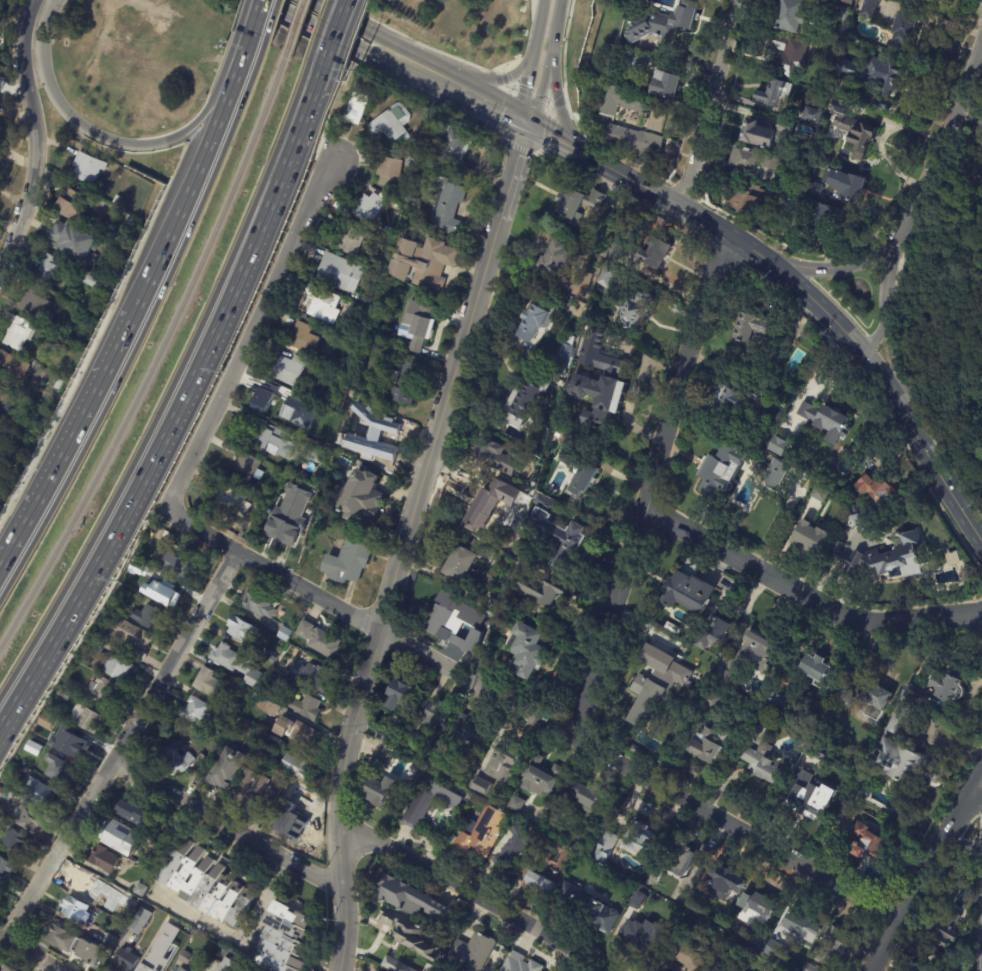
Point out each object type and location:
building: (848, 1)
building: (866, 8)
road: (534, 13)
building: (789, 14)
building: (843, 14)
road: (254, 19)
road: (271, 22)
building: (664, 23)
road: (555, 25)
railway: (294, 27)
road: (536, 27)
building: (904, 28)
building: (846, 30)
road: (318, 34)
road: (335, 37)
road: (364, 39)
building: (778, 42)
road: (240, 59)
building: (788, 59)
building: (633, 64)
building: (876, 78)
road: (974, 79)
road: (493, 81)
building: (665, 86)
road: (540, 87)
road: (524, 88)
building: (770, 93)
road: (485, 100)
road: (555, 103)
road: (711, 104)
building: (355, 107)
building: (630, 107)
building: (812, 112)
traffic signals: (526, 123)
building: (388, 124)
building: (854, 127)
road: (32, 133)
building: (766, 135)
road: (95, 136)
road: (942, 137)
building: (976, 137)
building: (635, 143)
building: (453, 150)
building: (744, 158)
building: (768, 162)
road: (603, 166)
building: (90, 167)
building: (388, 171)
building: (974, 174)
building: (813, 176)
building: (850, 186)
road: (185, 198)
building: (744, 198)
building: (120, 201)
building: (76, 203)
building: (577, 204)
building: (788, 205)
building: (448, 206)
building: (368, 208)
building: (819, 214)
road: (704, 222)
building: (120, 223)
building: (349, 237)
building: (76, 241)
building: (614, 250)
building: (653, 252)
road: (752, 252)
building: (555, 258)
building: (420, 261)
road: (842, 267)
building: (49, 270)
road: (889, 270)
building: (71, 273)
building: (340, 274)
building: (605, 276)
building: (97, 282)
building: (583, 287)
park: (854, 295)
building: (37, 301)
building: (317, 303)
building: (636, 308)
building: (536, 319)
building: (416, 322)
road: (143, 326)
building: (747, 327)
road: (247, 329)
road: (878, 331)
building: (20, 332)
road: (843, 332)
building: (301, 338)
building: (338, 338)
building: (563, 351)
road: (893, 356)
railway: (156, 358)
building: (12, 367)
building: (744, 368)
building: (287, 369)
building: (600, 381)
building: (404, 382)
road: (169, 389)
building: (526, 395)
building: (273, 400)
building: (737, 400)
building: (7, 405)
road: (180, 409)
building: (825, 418)
building: (496, 423)
building: (557, 434)
road: (66, 437)
building: (270, 437)
building: (388, 443)
building: (775, 444)
building: (9, 454)
building: (312, 454)
building: (497, 458)
building: (244, 468)
building: (721, 471)
building: (774, 472)
building: (581, 473)
road: (938, 478)
road: (650, 484)
building: (876, 490)
building: (818, 492)
building: (360, 496)
building: (224, 501)
building: (492, 502)
building: (288, 516)
building: (858, 517)
building: (554, 533)
building: (808, 538)
road: (403, 542)
building: (346, 560)
building: (461, 561)
building: (883, 561)
building: (183, 563)
building: (142, 567)
building: (688, 589)
road: (807, 590)
building: (166, 591)
building: (543, 591)
building: (260, 603)
building: (150, 618)
building: (451, 618)
building: (670, 628)
building: (244, 629)
building: (128, 630)
building: (286, 633)
building: (715, 633)
building: (321, 639)
building: (97, 644)
building: (525, 650)
building: (291, 651)
building: (142, 654)
building: (274, 658)
building: (743, 659)
building: (238, 663)
building: (115, 665)
building: (815, 671)
building: (315, 677)
building: (280, 679)
building: (212, 682)
building: (72, 683)
building: (946, 686)
building: (109, 690)
building: (65, 694)
building: (647, 694)
building: (398, 695)
building: (913, 696)
building: (844, 697)
building: (875, 701)
building: (774, 702)
building: (269, 707)
building: (307, 707)
building: (196, 710)
road: (534, 711)
building: (763, 717)
building: (89, 719)
building: (231, 720)
building: (48, 721)
building: (430, 723)
building: (224, 732)
building: (297, 733)
building: (471, 734)
building: (384, 737)
building: (276, 741)
building: (74, 744)
building: (33, 745)
road: (122, 745)
building: (706, 745)
building: (640, 752)
building: (898, 753)
building: (381, 756)
building: (171, 759)
building: (504, 760)
building: (298, 765)
building: (767, 765)
building: (231, 769)
building: (59, 770)
building: (206, 770)
building: (540, 777)
building: (478, 787)
building: (251, 789)
building: (293, 790)
building: (380, 790)
building: (43, 793)
building: (272, 793)
building: (586, 797)
building: (809, 798)
building: (426, 801)
building: (513, 804)
building: (136, 811)
building: (847, 815)
building: (31, 819)
building: (292, 822)
road: (227, 824)
building: (479, 832)
building: (126, 837)
building: (174, 837)
building: (18, 840)
building: (640, 840)
building: (604, 846)
building: (865, 847)
building: (508, 853)
building: (106, 859)
building: (679, 859)
building: (7, 867)
building: (872, 867)
road: (927, 872)
building: (539, 874)
building: (956, 876)
building: (651, 878)
building: (722, 883)
building: (93, 884)
building: (210, 885)
building: (141, 889)
building: (0, 895)
road: (473, 896)
building: (407, 898)
building: (693, 903)
building: (753, 908)
building: (78, 909)
building: (585, 909)
building: (127, 915)
building: (142, 921)
building: (794, 926)
building: (409, 933)
building: (938, 934)
building: (640, 936)
building: (161, 939)
building: (283, 939)
building: (111, 941)
road: (240, 941)
building: (77, 945)
building: (834, 946)
building: (773, 950)
building: (468, 954)
building: (684, 954)
road: (26, 956)
building: (185, 957)
building: (396, 957)
building: (127, 959)
building: (520, 962)
building: (227, 965)
building: (165, 966)
building: (808, 967)
building: (148, 968)
building: (9, 969)
building: (183, 969)
building: (193, 970)
road: (208, 970)
building: (423, 970)

